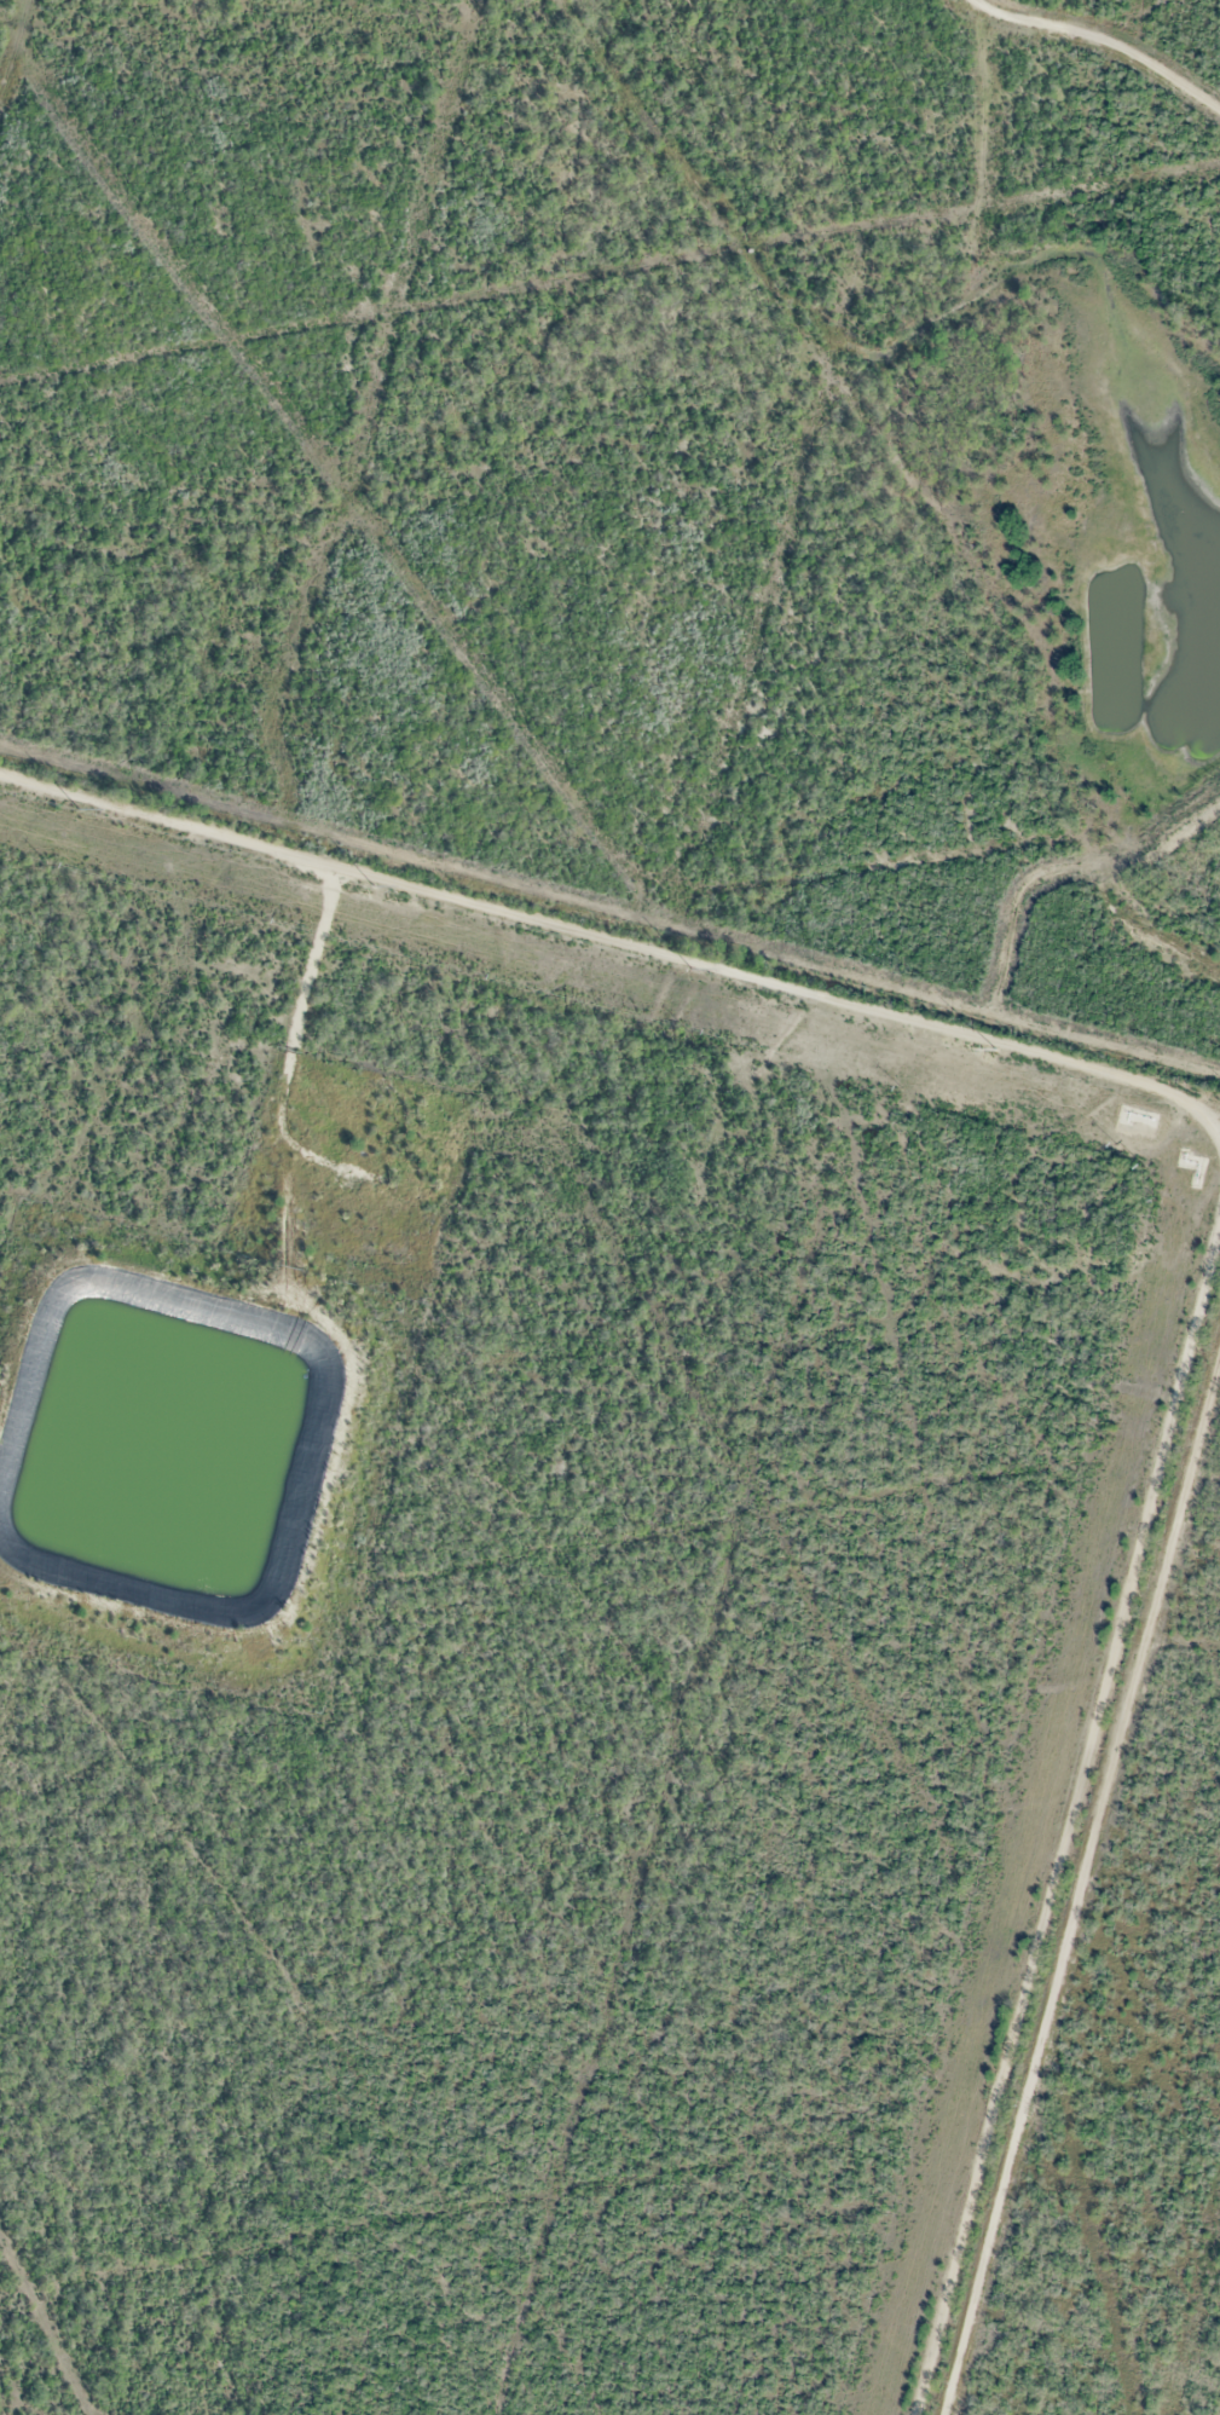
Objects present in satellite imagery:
road: (1104, 41)
power tower: (79, 809)
power tower: (375, 889)
road: (621, 941)
power tower: (694, 973)
power tower: (995, 1056)
road: (1068, 1812)

